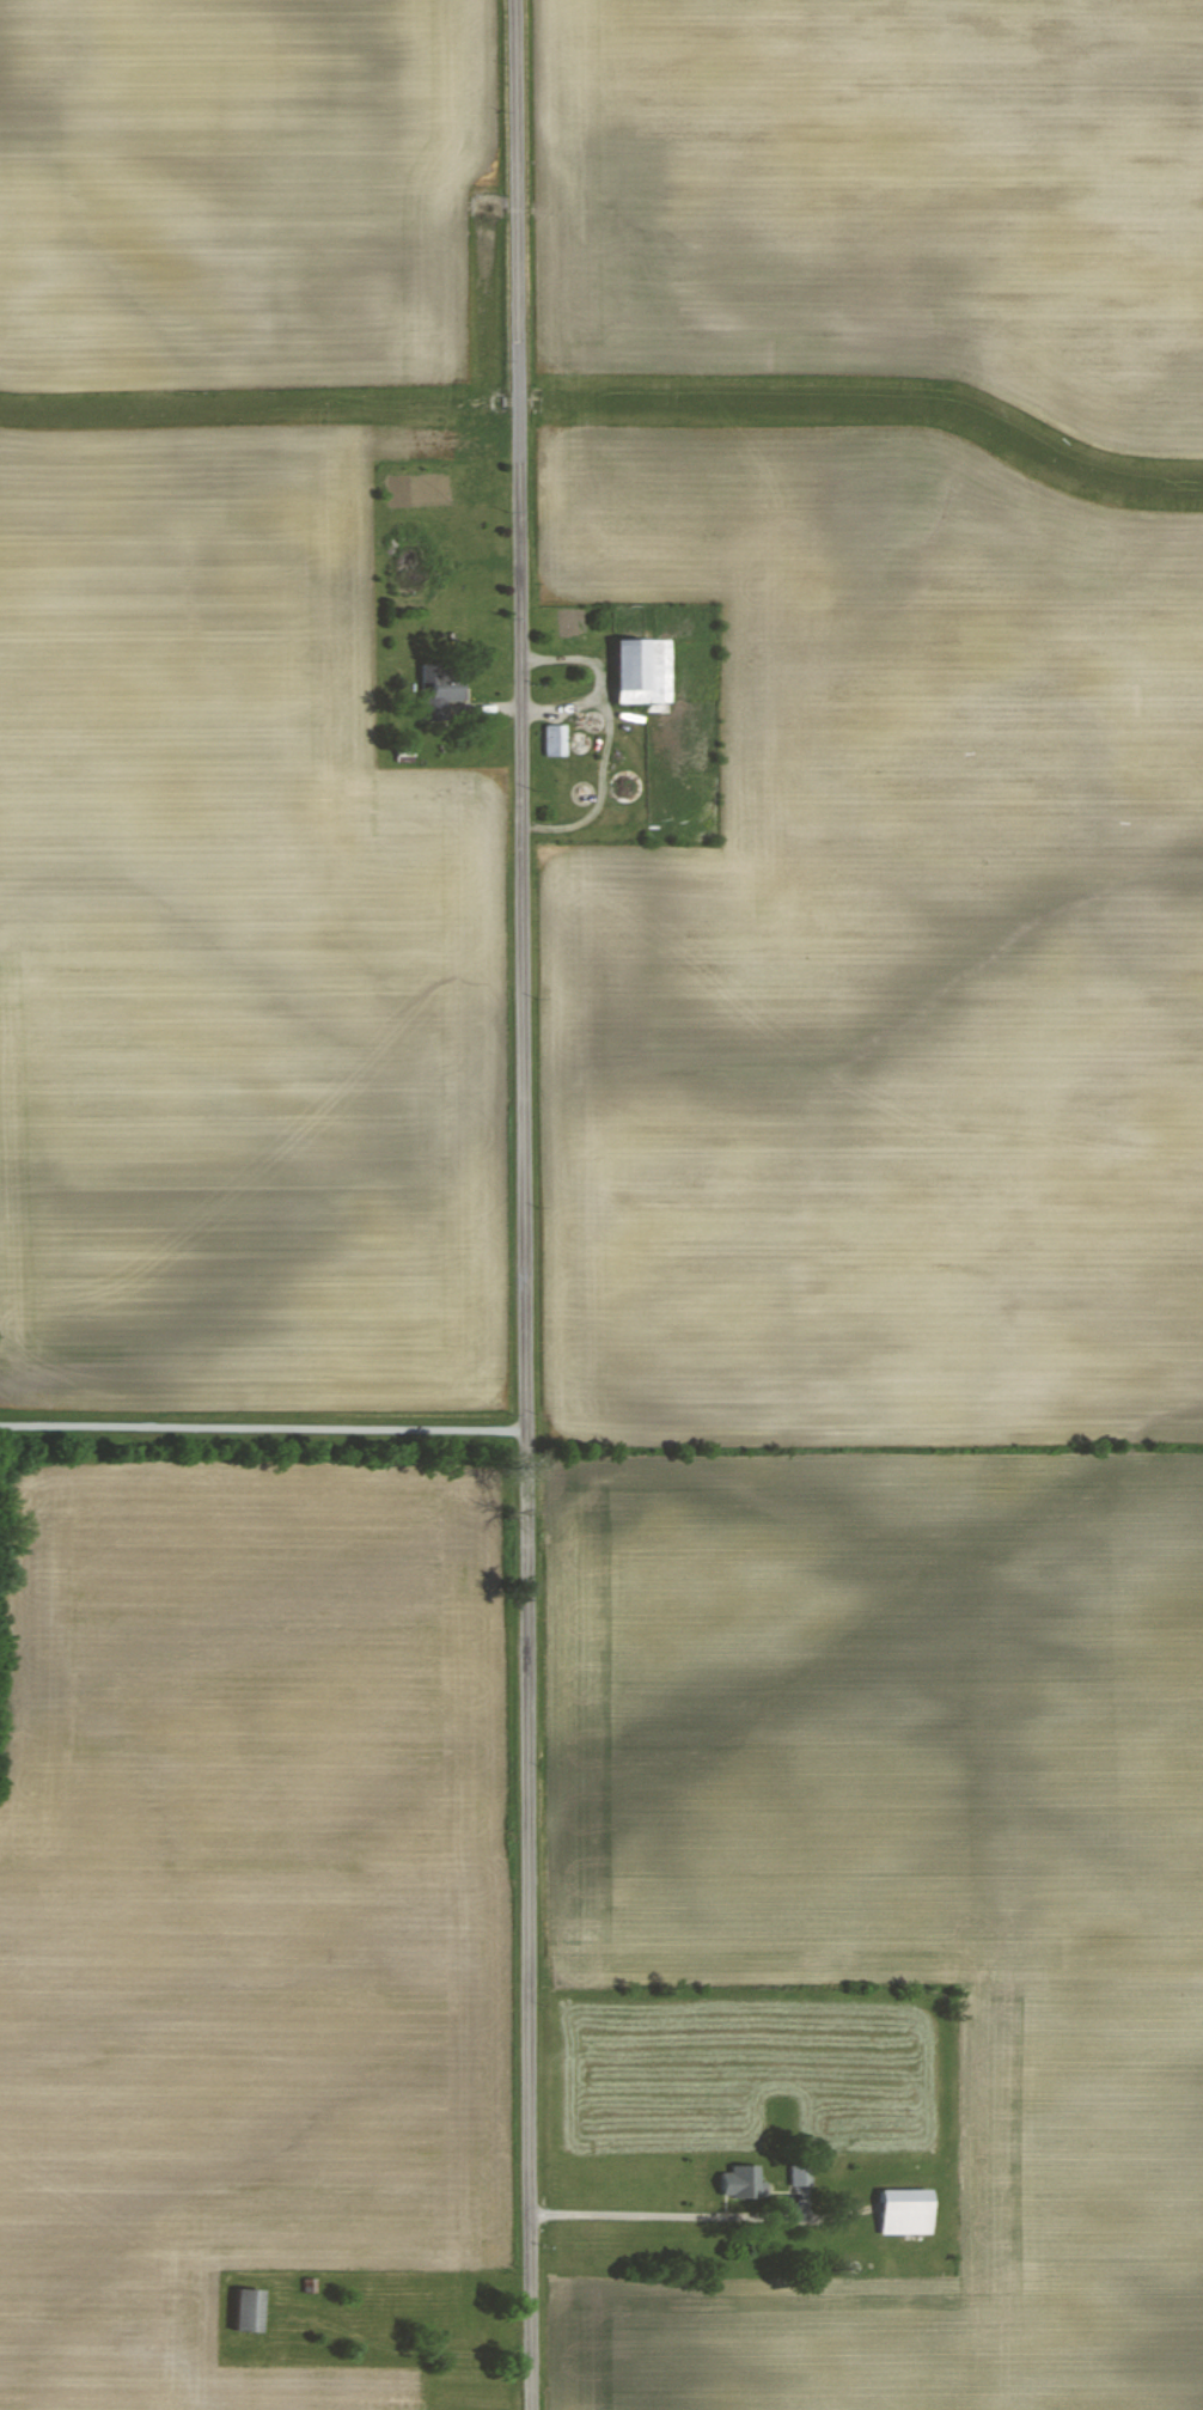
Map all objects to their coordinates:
building: (642, 671)
building: (440, 682)
building: (555, 739)
road: (529, 1204)
road: (265, 1414)
building: (740, 2182)
building: (904, 2210)
road: (639, 2216)
building: (248, 2311)

